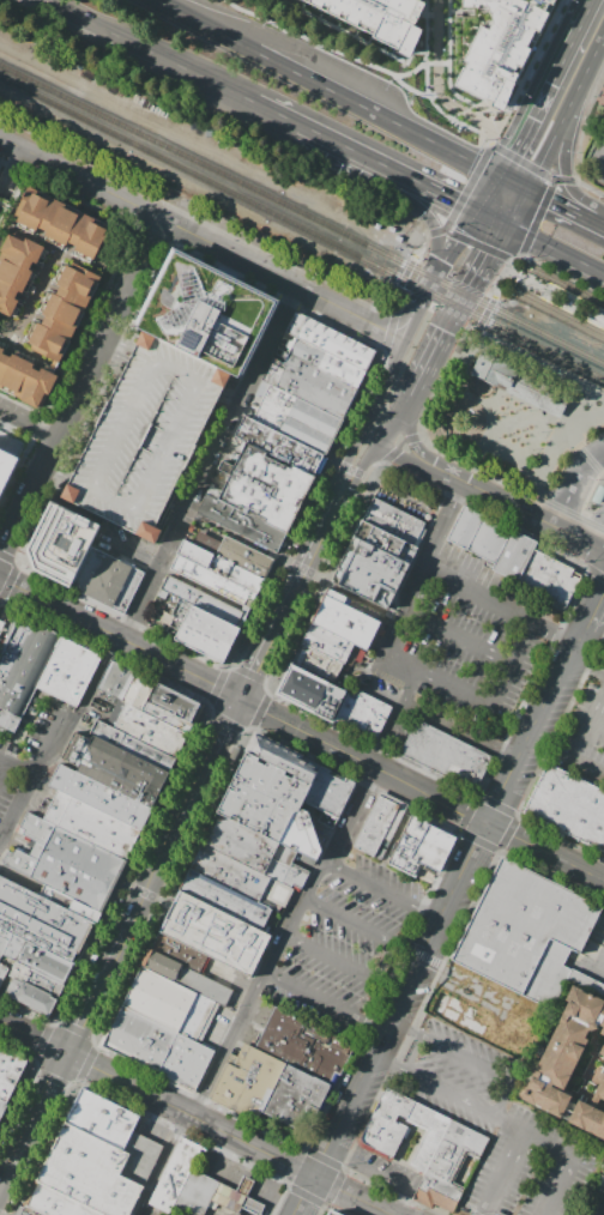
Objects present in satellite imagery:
road: (602, 11)
building: (380, 18)
road: (354, 36)
road: (121, 37)
road: (587, 42)
building: (500, 46)
road: (424, 54)
road: (419, 64)
road: (436, 78)
road: (447, 80)
road: (570, 84)
road: (328, 87)
road: (225, 89)
road: (427, 95)
road: (276, 113)
road: (537, 121)
building: (602, 121)
road: (489, 138)
road: (546, 144)
road: (345, 146)
traffic signals: (512, 157)
road: (597, 159)
road: (521, 162)
parking lot: (594, 164)
road: (84, 179)
road: (513, 181)
road: (567, 181)
road: (466, 187)
road: (434, 189)
road: (591, 191)
road: (487, 192)
road: (537, 192)
traffic signals: (550, 199)
traffic signals: (454, 200)
road: (517, 206)
parking lot: (210, 211)
road: (574, 211)
railway: (302, 212)
road: (491, 218)
road: (537, 218)
building: (64, 224)
railway: (302, 226)
road: (433, 231)
road: (477, 244)
road: (423, 248)
road: (555, 248)
road: (452, 252)
traffic signals: (490, 255)
road: (487, 260)
building: (16, 271)
road: (502, 273)
road: (514, 273)
road: (562, 273)
road: (406, 274)
road: (286, 278)
railway: (521, 283)
railway: (567, 286)
road: (397, 301)
road: (464, 302)
building: (65, 310)
road: (479, 312)
railway: (561, 312)
building: (207, 313)
road: (416, 315)
building: (596, 315)
road: (388, 332)
traffic signals: (448, 333)
building: (332, 340)
road: (122, 343)
parking lot: (133, 349)
road: (436, 352)
road: (116, 355)
parking lot: (128, 361)
building: (326, 361)
road: (536, 365)
building: (511, 377)
building: (26, 380)
road: (86, 386)
building: (316, 386)
street lamp: (501, 397)
building: (555, 399)
street lamp: (590, 399)
road: (409, 404)
street lamp: (530, 410)
street lamp: (484, 413)
building: (297, 418)
road: (29, 425)
road: (362, 430)
street lamp: (540, 431)
road: (391, 433)
road: (481, 433)
street lamp: (499, 437)
road: (569, 437)
building: (16, 439)
building: (150, 439)
parking garage: (150, 439)
road: (427, 439)
building: (279, 443)
road: (399, 443)
road: (555, 443)
street lamp: (532, 451)
road: (422, 455)
road: (586, 457)
road: (590, 461)
building: (7, 466)
road: (418, 466)
road: (352, 470)
street lamp: (596, 479)
building: (265, 486)
road: (348, 486)
building: (598, 495)
road: (567, 501)
street lamp: (585, 503)
road: (189, 504)
road: (508, 506)
road: (304, 508)
road: (573, 512)
road: (484, 513)
road: (585, 516)
building: (395, 521)
building: (242, 524)
road: (597, 532)
road: (572, 537)
road: (246, 540)
building: (61, 542)
building: (385, 542)
traffic signals: (590, 545)
road: (597, 548)
road: (133, 552)
building: (513, 556)
building: (231, 562)
road: (594, 570)
building: (370, 572)
road: (327, 573)
building: (108, 580)
building: (211, 580)
road: (206, 588)
road: (352, 594)
building: (205, 600)
road: (500, 605)
road: (594, 609)
road: (284, 612)
building: (344, 619)
building: (204, 630)
road: (458, 635)
road: (120, 639)
parking lot: (459, 646)
building: (330, 657)
road: (587, 659)
building: (23, 670)
building: (70, 671)
road: (249, 673)
building: (115, 679)
road: (216, 685)
building: (139, 690)
building: (312, 691)
traffic signals: (242, 700)
road: (487, 701)
building: (174, 702)
road: (259, 709)
building: (362, 713)
building: (168, 717)
road: (225, 721)
road: (599, 721)
road: (534, 723)
parking lot: (585, 725)
building: (149, 729)
road: (461, 731)
building: (131, 744)
road: (584, 744)
building: (445, 755)
parking lot: (31, 760)
building: (284, 760)
road: (364, 760)
road: (0, 764)
road: (17, 769)
building: (122, 772)
road: (206, 772)
road: (36, 775)
building: (330, 792)
building: (99, 796)
building: (265, 799)
road: (87, 804)
building: (568, 805)
building: (90, 823)
building: (380, 823)
building: (304, 838)
building: (241, 844)
building: (422, 847)
road: (544, 851)
road: (332, 854)
building: (65, 868)
building: (286, 869)
road: (603, 876)
building: (241, 878)
road: (151, 885)
road: (382, 890)
building: (229, 901)
parking lot: (599, 919)
road: (602, 920)
building: (42, 921)
building: (525, 931)
building: (213, 932)
building: (4, 939)
parking lot: (349, 947)
parking lot: (584, 947)
building: (179, 951)
road: (593, 951)
building: (37, 957)
road: (387, 963)
building: (2, 972)
building: (187, 978)
building: (36, 979)
road: (463, 985)
road: (98, 991)
building: (29, 998)
road: (404, 1001)
building: (168, 1003)
road: (328, 1003)
building: (458, 1012)
building: (602, 1027)
road: (34, 1038)
building: (139, 1039)
building: (304, 1046)
building: (602, 1050)
building: (563, 1052)
traffic signals: (68, 1056)
building: (186, 1060)
building: (10, 1071)
building: (249, 1080)
building: (600, 1090)
building: (302, 1100)
road: (505, 1101)
building: (2, 1105)
road: (40, 1111)
road: (192, 1116)
building: (588, 1117)
building: (102, 1118)
parking lot: (493, 1120)
building: (387, 1124)
road: (511, 1125)
road: (534, 1138)
building: (442, 1148)
building: (141, 1154)
building: (90, 1172)
building: (175, 1174)
road: (382, 1174)
road: (256, 1178)
road: (6, 1180)
building: (244, 1185)
building: (195, 1192)
road: (306, 1196)
road: (352, 1196)
building: (228, 1197)
building: (56, 1202)
building: (252, 1205)
building: (28, 1210)
parking lot: (179, 1213)
building: (326, 1213)
building: (334, 1213)
road: (0, 1214)
road: (603, 1214)

